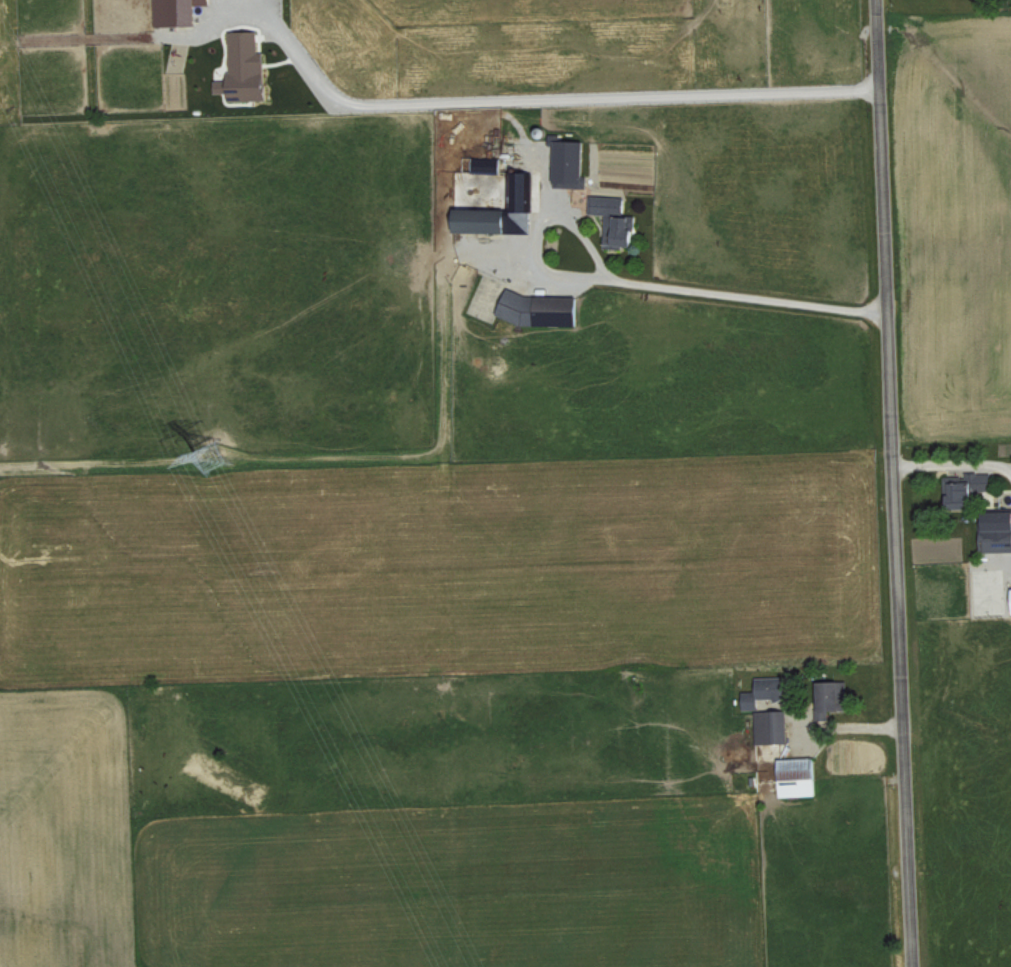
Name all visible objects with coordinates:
building: (178, 12)
building: (246, 69)
road: (534, 100)
building: (501, 213)
building: (615, 221)
road: (643, 284)
building: (541, 309)
power tower: (210, 439)
road: (954, 463)
road: (896, 483)
building: (966, 488)
building: (768, 690)
building: (832, 697)
building: (771, 726)
building: (798, 776)

